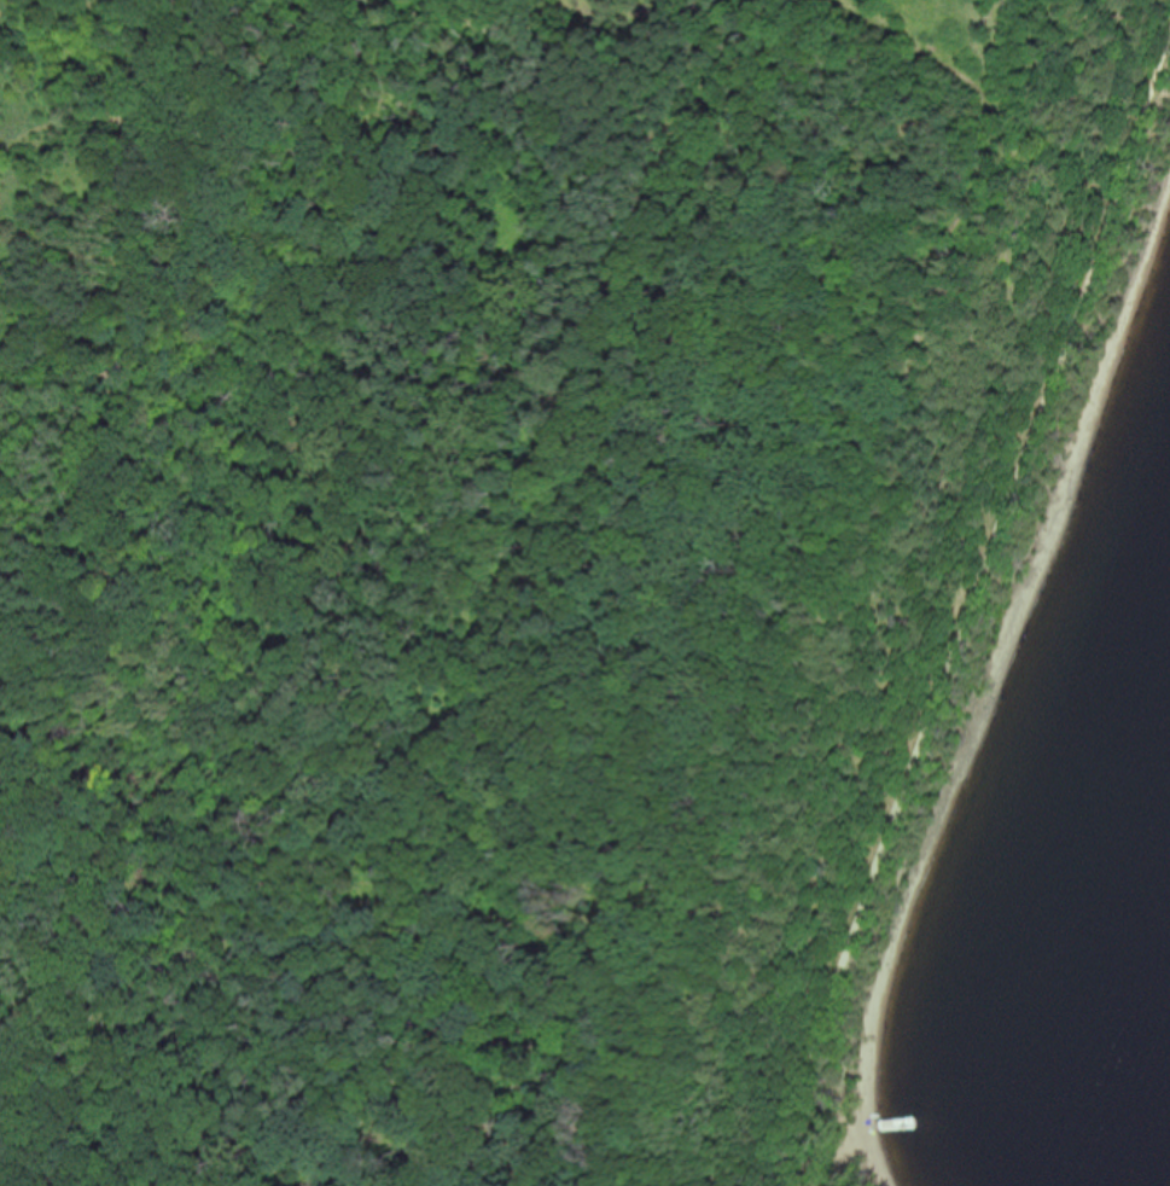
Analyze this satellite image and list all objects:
road: (42, 37)
road: (35, 124)
road: (30, 233)
road: (34, 386)
road: (625, 508)
road: (990, 542)
park: (522, 557)
road: (798, 1124)

